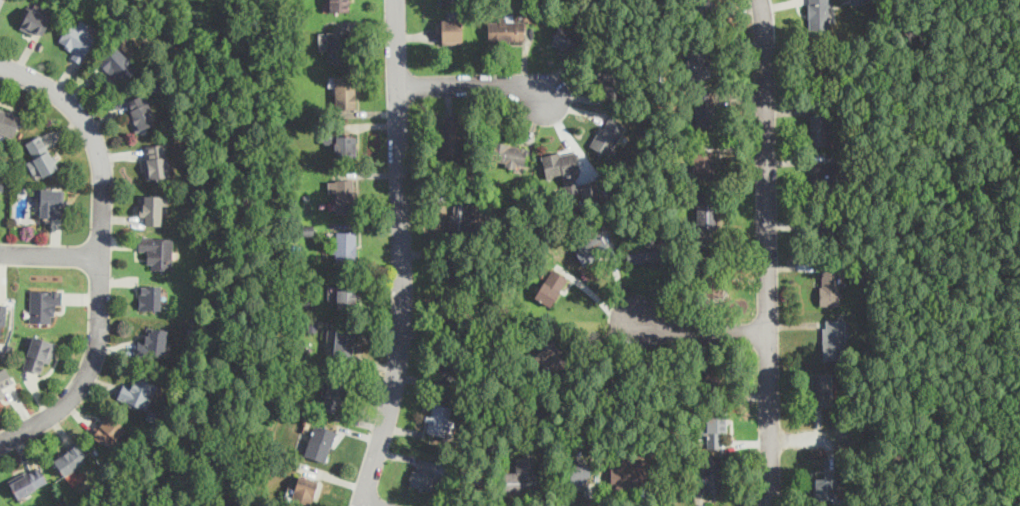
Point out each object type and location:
building: (858, 1)
building: (339, 5)
building: (703, 8)
building: (819, 15)
building: (36, 19)
building: (451, 30)
building: (508, 31)
building: (568, 34)
building: (78, 38)
building: (337, 44)
building: (699, 60)
building: (117, 63)
building: (818, 65)
building: (610, 79)
road: (473, 82)
building: (345, 92)
building: (704, 107)
building: (139, 111)
building: (8, 121)
building: (820, 129)
building: (607, 135)
building: (451, 142)
building: (345, 145)
building: (508, 153)
building: (41, 156)
building: (156, 160)
building: (703, 165)
building: (569, 173)
building: (824, 175)
building: (1, 185)
building: (342, 194)
building: (50, 203)
building: (151, 208)
building: (705, 210)
building: (461, 215)
building: (827, 226)
building: (346, 244)
building: (590, 247)
building: (645, 249)
road: (96, 250)
building: (157, 251)
road: (47, 252)
road: (768, 252)
park: (948, 252)
road: (400, 255)
building: (457, 265)
building: (551, 285)
building: (829, 290)
building: (149, 296)
building: (345, 298)
building: (44, 303)
building: (2, 317)
road: (693, 333)
building: (833, 338)
building: (344, 340)
building: (152, 342)
building: (38, 353)
building: (549, 358)
building: (451, 368)
building: (713, 376)
building: (4, 380)
building: (821, 385)
building: (137, 391)
building: (334, 396)
building: (438, 418)
building: (712, 428)
building: (108, 429)
road: (822, 439)
building: (321, 441)
building: (71, 458)
building: (422, 472)
building: (624, 472)
building: (579, 474)
building: (711, 475)
building: (520, 476)
building: (27, 481)
building: (826, 485)
building: (304, 489)
road: (367, 504)

